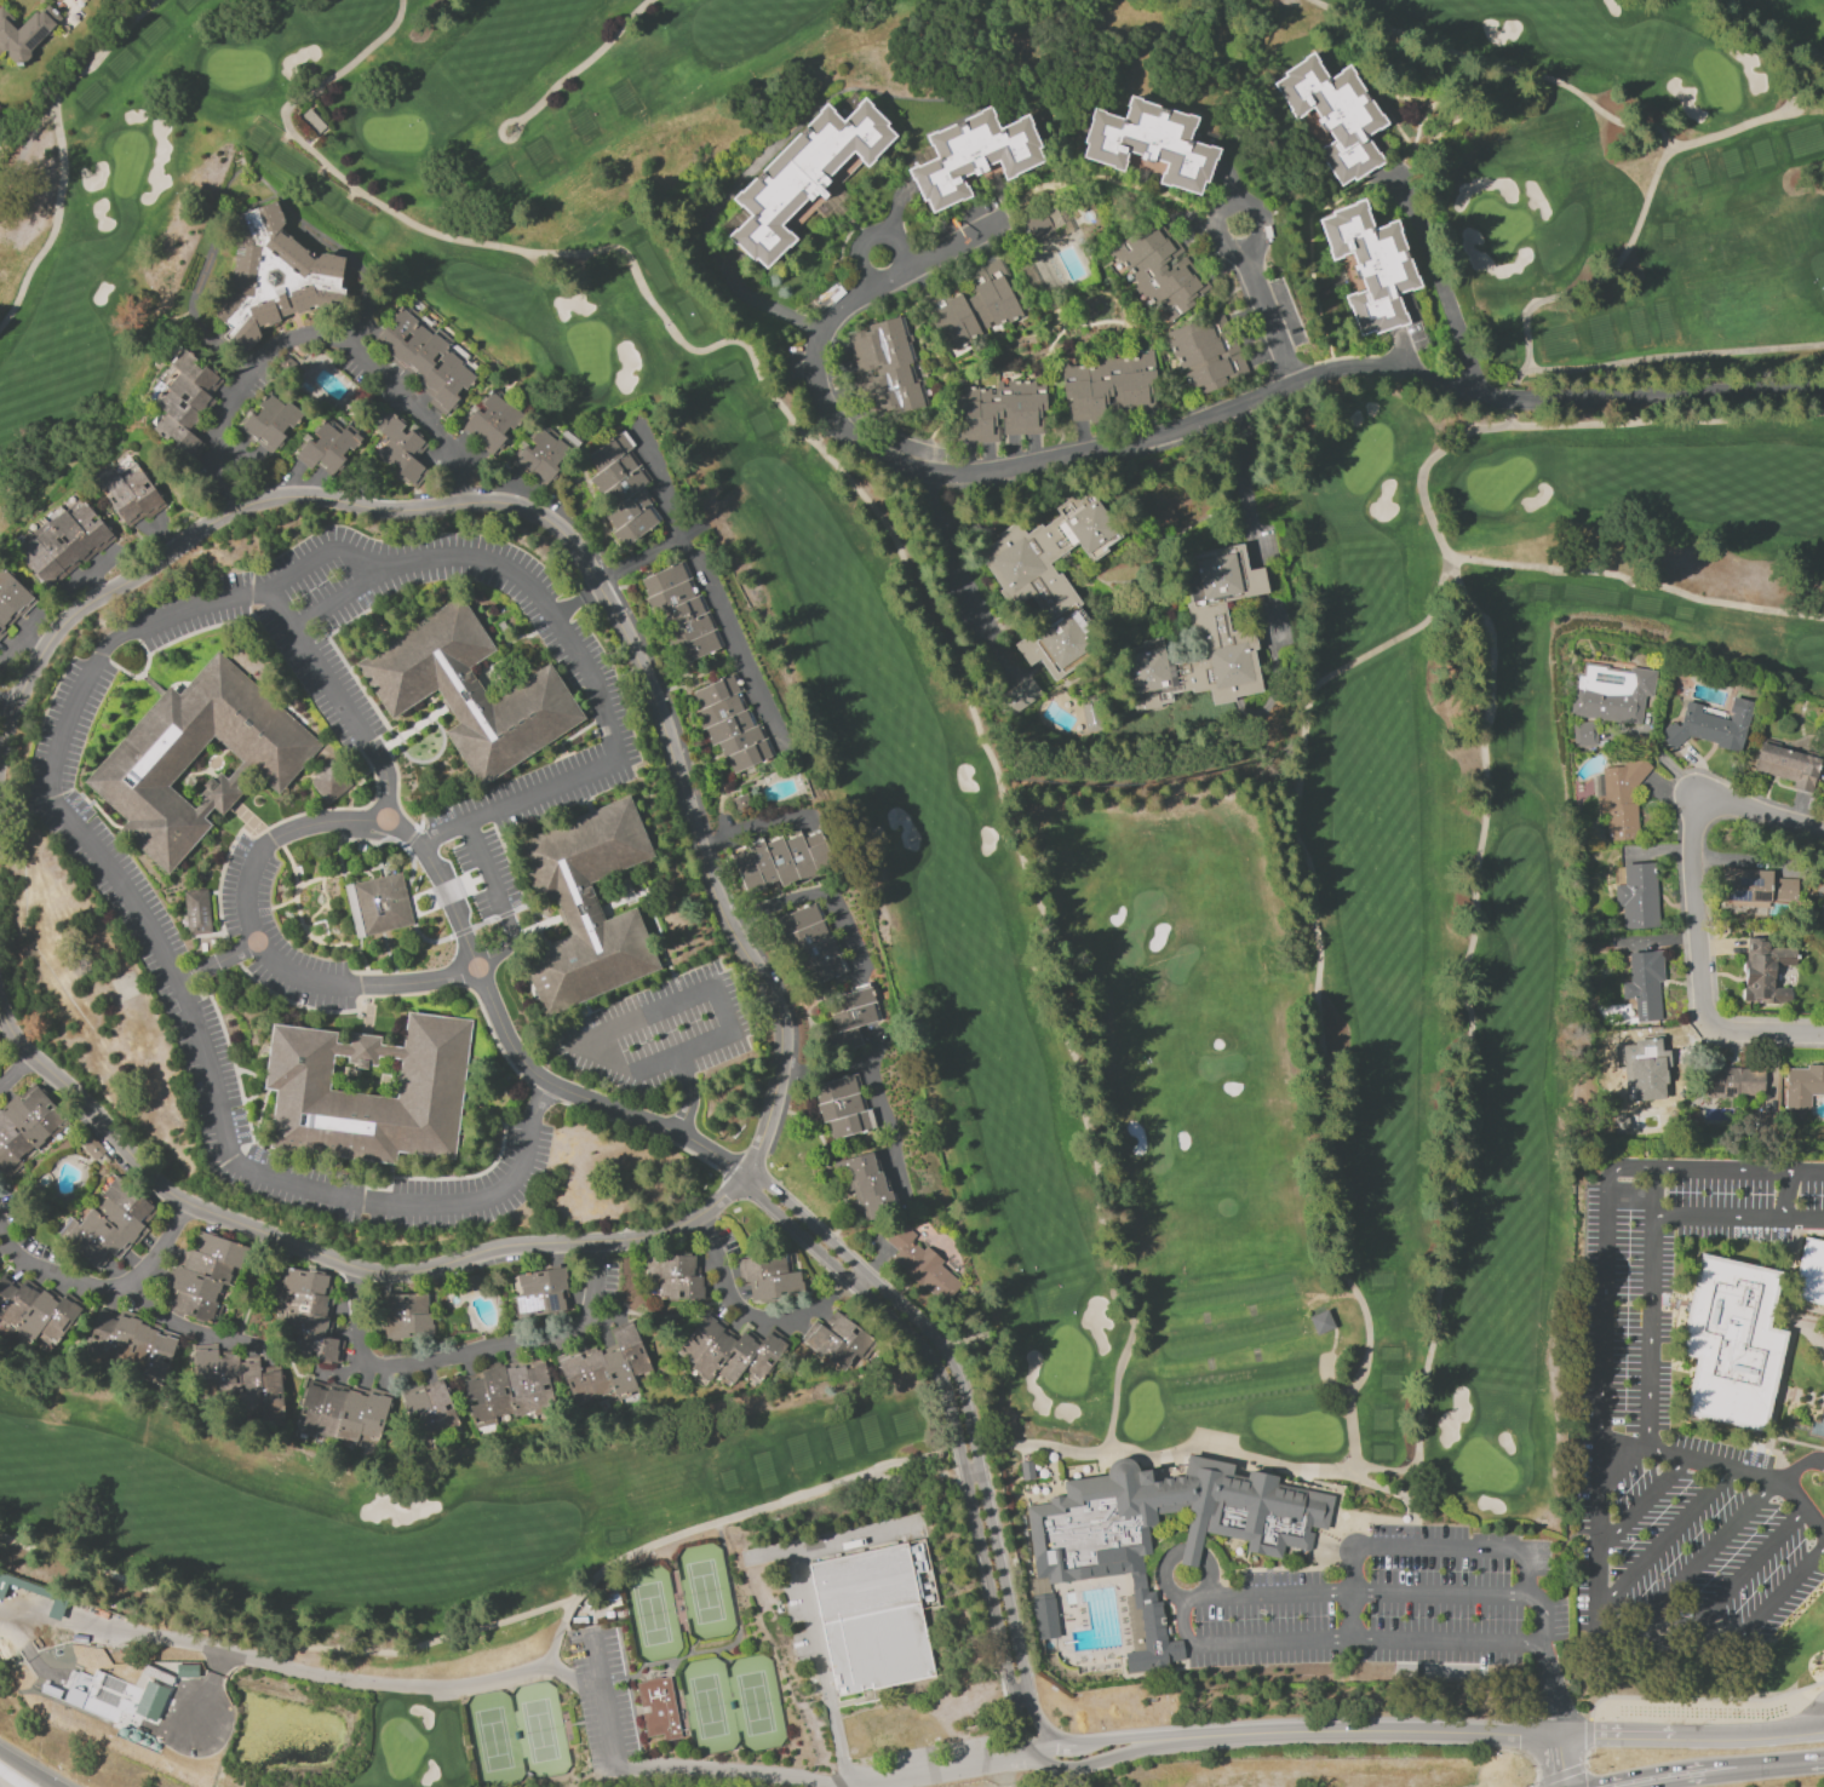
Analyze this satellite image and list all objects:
road: (1739, 28)
building: (25, 31)
road: (1801, 52)
road: (591, 63)
road: (1495, 67)
building: (1332, 117)
road: (1761, 122)
road: (504, 139)
building: (1148, 145)
road: (63, 150)
building: (970, 159)
building: (799, 177)
road: (895, 209)
building: (1042, 223)
road: (873, 231)
road: (1256, 240)
building: (1370, 268)
building: (1159, 271)
building: (273, 275)
road: (1608, 278)
road: (860, 289)
road: (1442, 291)
road: (762, 303)
building: (977, 305)
building: (396, 329)
road: (303, 343)
building: (409, 345)
building: (1206, 352)
building: (428, 355)
road: (1646, 362)
building: (887, 364)
building: (195, 372)
building: (440, 373)
building: (1107, 384)
building: (183, 387)
building: (452, 389)
road: (1463, 392)
building: (171, 404)
building: (1000, 410)
building: (484, 414)
building: (262, 416)
building: (280, 425)
building: (500, 426)
building: (171, 429)
building: (401, 436)
building: (317, 444)
building: (339, 449)
building: (534, 450)
building: (610, 450)
building: (551, 460)
building: (401, 461)
building: (615, 471)
road: (983, 477)
road: (1243, 479)
building: (627, 485)
building: (142, 489)
building: (122, 499)
road: (1423, 500)
building: (629, 508)
building: (88, 523)
building: (636, 527)
road: (890, 530)
building: (63, 540)
road: (639, 559)
building: (39, 561)
road: (946, 562)
building: (665, 580)
building: (1051, 582)
road: (706, 588)
road: (345, 597)
building: (671, 597)
building: (12, 599)
road: (578, 602)
building: (682, 613)
building: (690, 630)
building: (1203, 638)
road: (568, 640)
building: (698, 647)
building: (466, 691)
building: (717, 691)
building: (1611, 693)
building: (1019, 695)
road: (339, 701)
road: (8, 702)
building: (719, 711)
building: (729, 726)
building: (1710, 726)
building: (1584, 735)
building: (741, 740)
building: (750, 755)
building: (1788, 766)
building: (138, 768)
building: (328, 783)
building: (1621, 799)
road: (1761, 814)
park: (1210, 829)
building: (818, 854)
building: (798, 857)
building: (780, 860)
road: (252, 862)
building: (763, 863)
building: (746, 868)
building: (1819, 881)
building: (1753, 886)
building: (1637, 897)
road: (784, 901)
road: (504, 902)
building: (382, 906)
building: (584, 908)
building: (196, 913)
building: (1822, 918)
building: (799, 919)
road: (735, 931)
building: (807, 936)
road: (860, 952)
building: (816, 953)
road: (214, 965)
building: (825, 970)
road: (1703, 972)
building: (1765, 972)
road: (1318, 984)
building: (1642, 984)
road: (178, 996)
building: (857, 998)
building: (855, 1017)
building: (1653, 1067)
road: (624, 1069)
road: (17, 1075)
building: (297, 1081)
building: (1733, 1082)
building: (1803, 1086)
building: (837, 1088)
road: (692, 1099)
road: (584, 1102)
building: (841, 1107)
building: (853, 1124)
building: (25, 1126)
building: (867, 1186)
road: (1653, 1194)
road: (1788, 1197)
road: (1607, 1205)
building: (111, 1224)
road: (1652, 1248)
building: (0, 1260)
building: (922, 1265)
building: (1811, 1275)
building: (205, 1276)
building: (677, 1276)
building: (769, 1277)
building: (470, 1283)
building: (541, 1292)
road: (110, 1293)
building: (34, 1312)
building: (309, 1314)
building: (405, 1315)
building: (1319, 1321)
road: (755, 1323)
road: (191, 1328)
building: (838, 1340)
building: (1732, 1343)
building: (130, 1348)
building: (728, 1352)
road: (468, 1355)
building: (606, 1367)
building: (241, 1377)
building: (507, 1392)
building: (432, 1410)
building: (342, 1414)
road: (1147, 1459)
road: (1719, 1465)
building: (1027, 1471)
road: (1793, 1489)
road: (1404, 1495)
road: (1645, 1502)
building: (1258, 1522)
road: (1668, 1540)
road: (1513, 1552)
road: (1700, 1558)
road: (1168, 1567)
road: (1748, 1573)
road: (1601, 1579)
building: (22, 1585)
park: (704, 1591)
building: (1141, 1593)
road: (1780, 1594)
road: (1279, 1596)
road: (1445, 1597)
park: (653, 1613)
building: (1143, 1613)
building: (620, 1614)
building: (1043, 1615)
road: (808, 1618)
road: (1355, 1618)
building: (874, 1619)
road: (553, 1638)
road: (1336, 1642)
building: (1147, 1644)
building: (1134, 1651)
building: (612, 1656)
road: (99, 1665)
road: (298, 1667)
park: (756, 1701)
park: (709, 1703)
building: (659, 1708)
park: (539, 1728)
park: (493, 1736)
building: (154, 1745)
building: (160, 1747)
road: (1100, 1747)
building: (165, 1752)
building: (171, 1756)
road: (1795, 1760)
road: (1565, 1762)
road: (30, 1768)
road: (1669, 1769)
road: (24, 1770)
road: (1000, 1770)
road: (764, 1772)
road: (1719, 1777)

